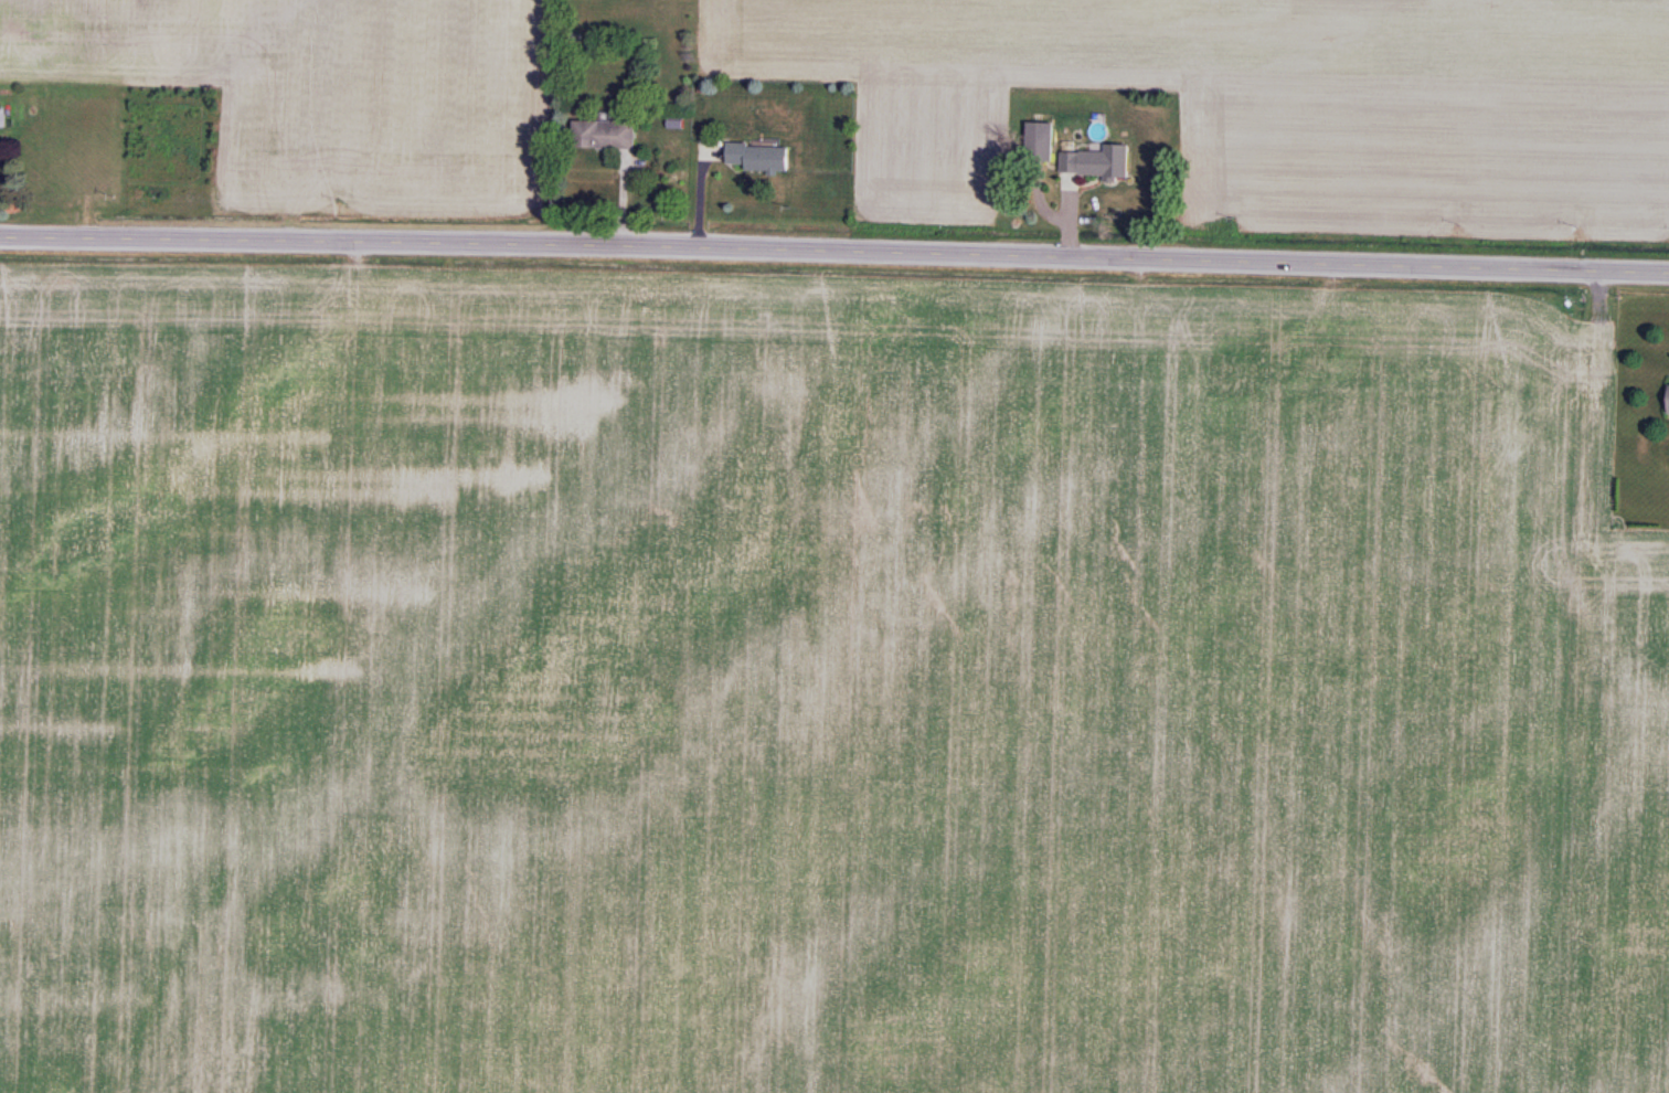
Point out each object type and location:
building: (1, 118)
building: (603, 135)
building: (1039, 142)
building: (757, 158)
building: (1095, 162)
road: (834, 252)
building: (1667, 401)

